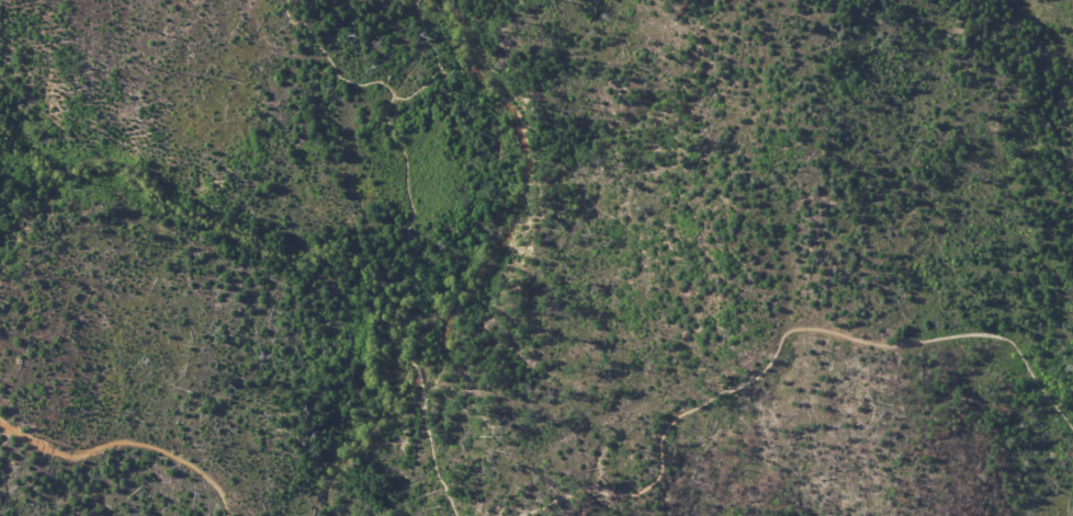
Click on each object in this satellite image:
road: (331, 60)
road: (403, 170)
park: (536, 257)
road: (780, 340)
road: (419, 375)
road: (125, 442)
road: (430, 451)

